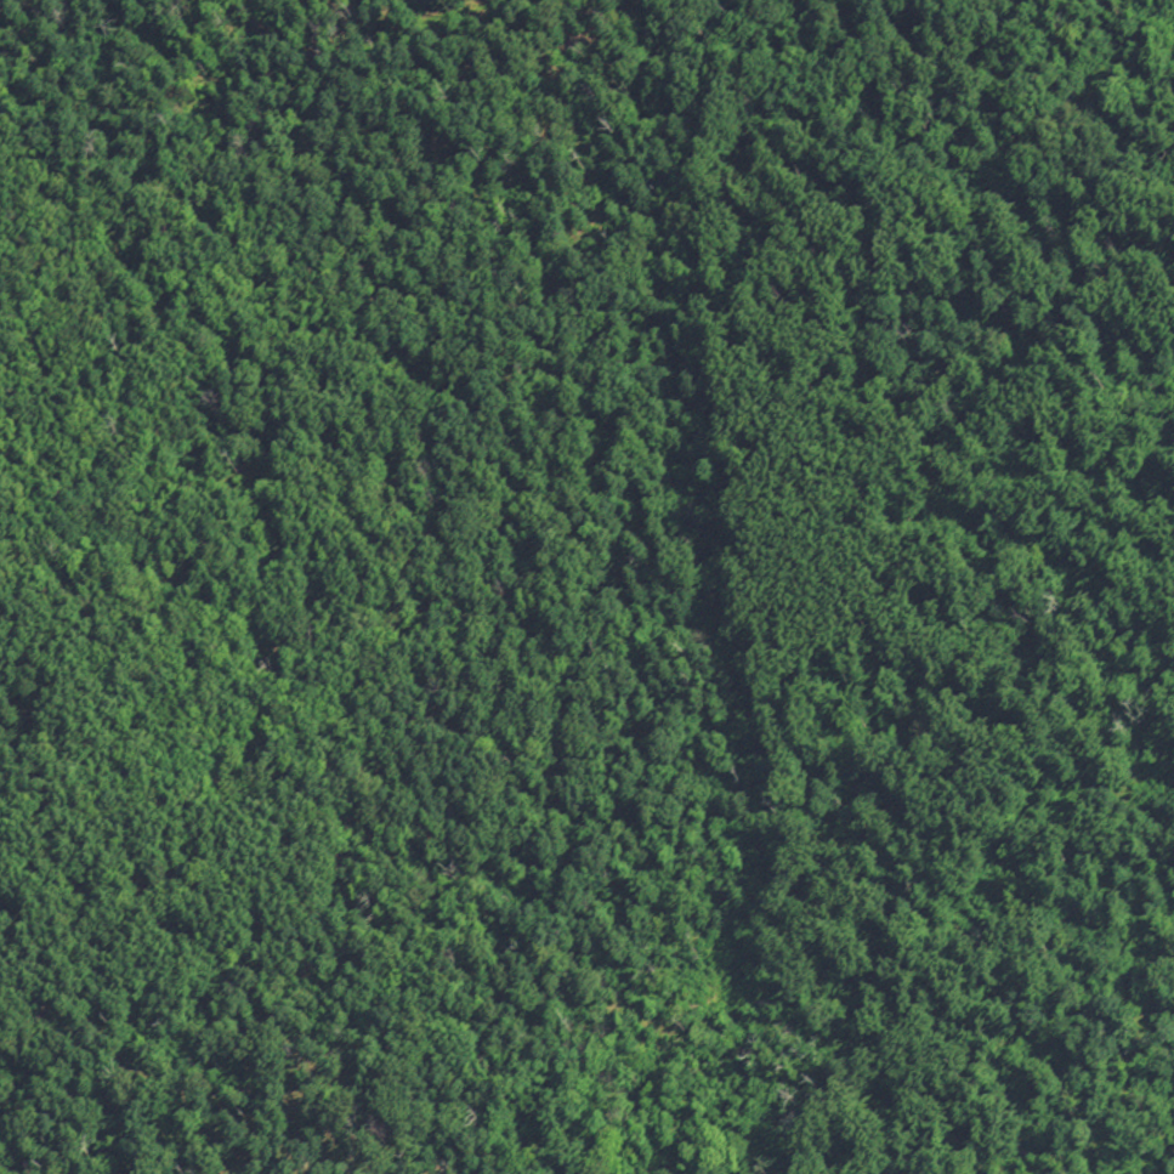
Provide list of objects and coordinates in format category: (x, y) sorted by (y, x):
road: (1168, 166)

